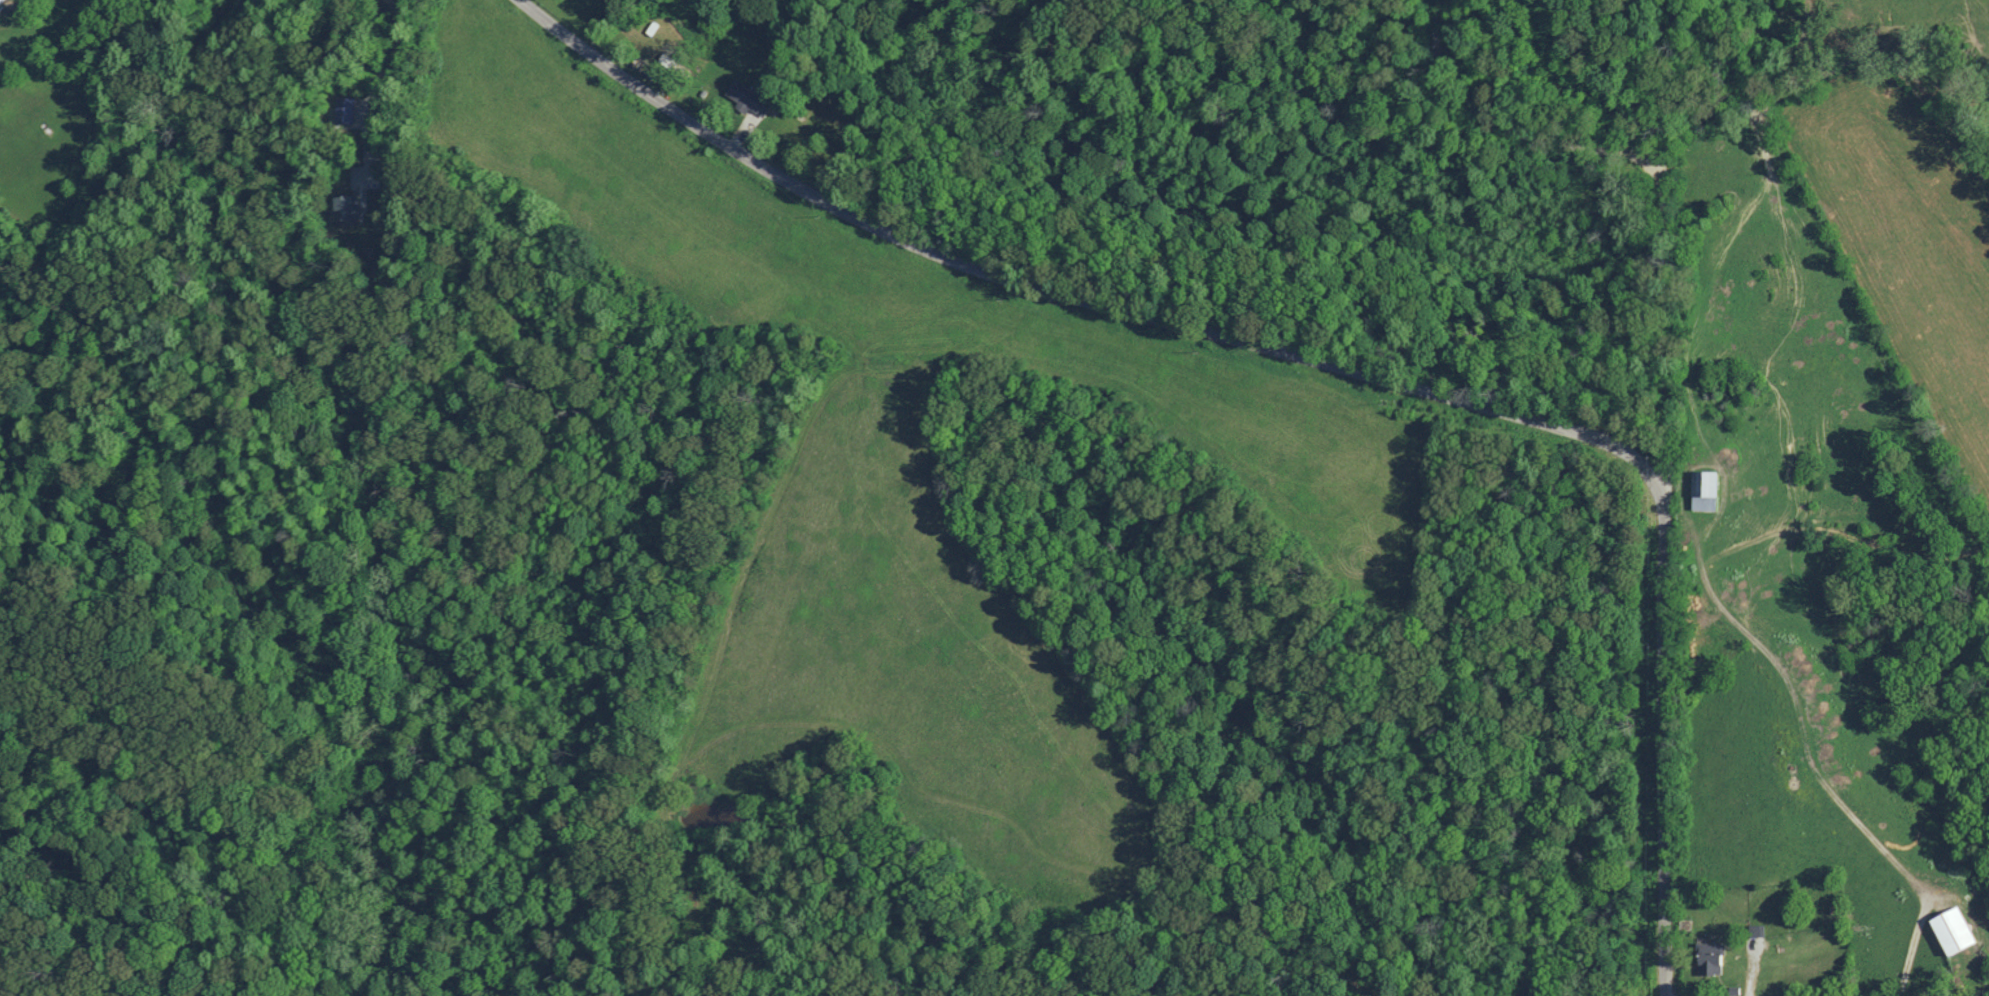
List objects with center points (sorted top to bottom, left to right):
building: (1, 1)
road: (377, 82)
building: (749, 98)
building: (345, 109)
road: (1660, 172)
building: (347, 206)
road: (1311, 362)
building: (1705, 490)
building: (1953, 931)
building: (1710, 959)

